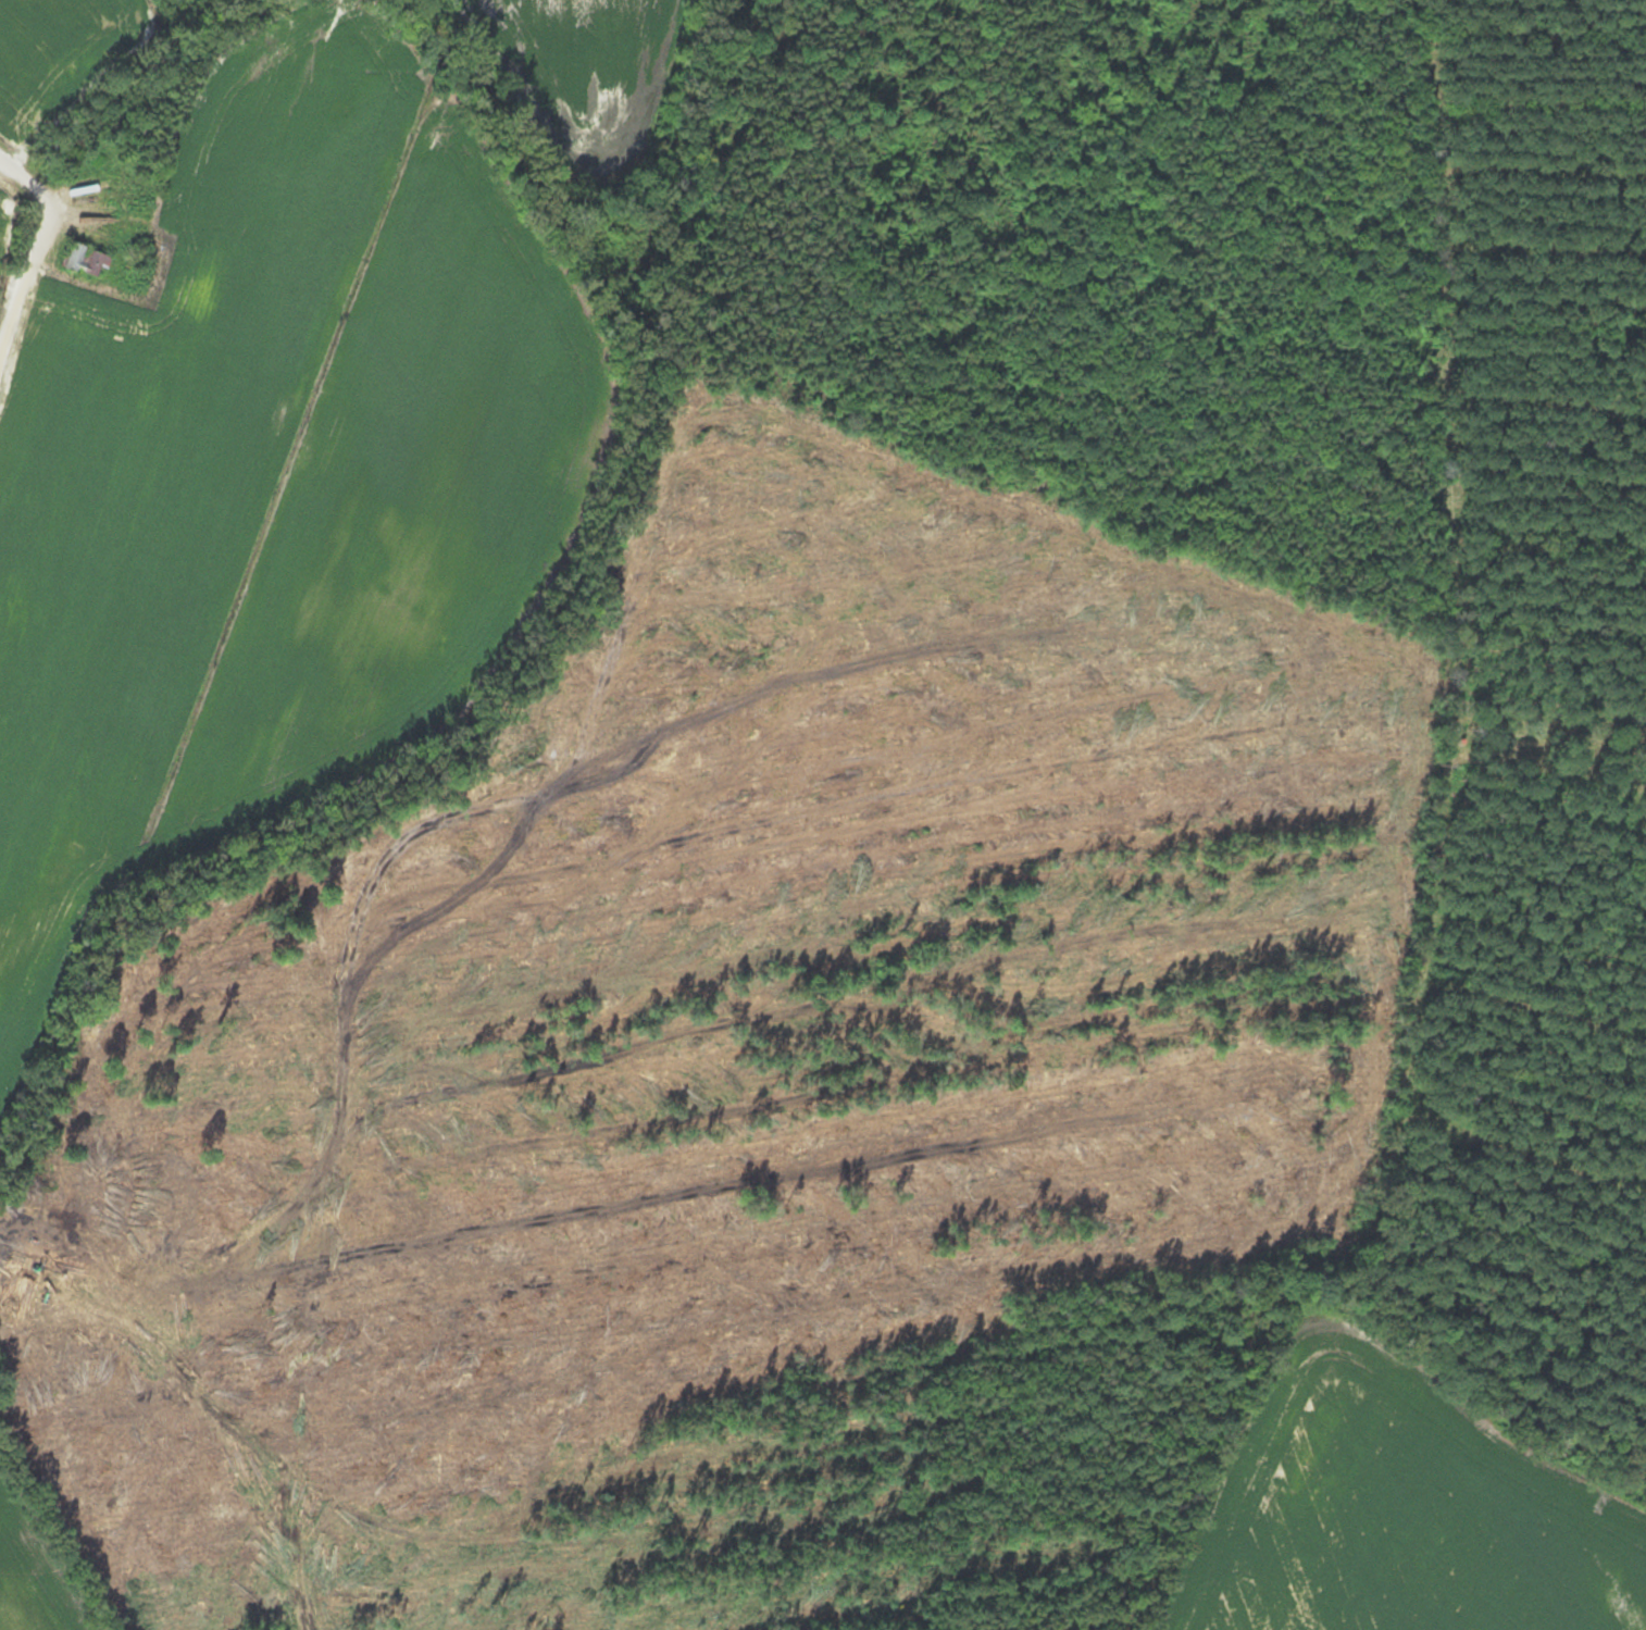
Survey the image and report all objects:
road: (14, 172)
building: (84, 260)

